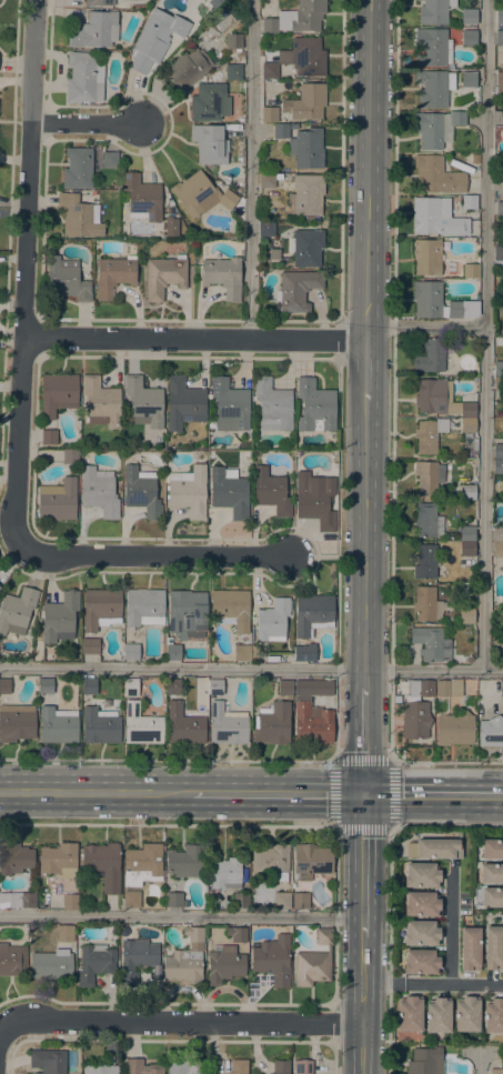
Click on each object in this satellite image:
building: (98, 2)
building: (434, 11)
building: (469, 16)
building: (499, 17)
building: (296, 18)
building: (95, 30)
building: (469, 38)
building: (499, 38)
building: (155, 39)
building: (233, 41)
building: (432, 48)
building: (308, 57)
building: (187, 69)
building: (270, 70)
building: (233, 71)
building: (83, 78)
building: (469, 79)
building: (499, 83)
building: (433, 88)
building: (305, 102)
building: (209, 103)
building: (269, 114)
road: (90, 123)
building: (436, 128)
building: (281, 131)
building: (209, 144)
building: (306, 148)
building: (474, 159)
building: (110, 160)
road: (340, 161)
building: (78, 168)
road: (369, 169)
road: (251, 170)
building: (436, 175)
building: (268, 180)
building: (227, 181)
building: (200, 195)
building: (306, 195)
building: (142, 199)
building: (469, 202)
building: (500, 209)
building: (79, 217)
building: (436, 218)
building: (171, 227)
building: (265, 228)
building: (306, 248)
building: (426, 257)
building: (499, 257)
building: (471, 271)
road: (28, 273)
building: (113, 275)
building: (164, 275)
building: (223, 277)
building: (66, 279)
building: (295, 290)
building: (426, 299)
building: (462, 309)
road: (425, 328)
road: (483, 334)
road: (195, 339)
road: (339, 340)
building: (432, 357)
building: (497, 369)
road: (368, 370)
road: (393, 381)
building: (499, 384)
building: (58, 393)
building: (101, 402)
building: (444, 402)
building: (143, 403)
building: (183, 403)
building: (230, 405)
building: (272, 405)
building: (315, 406)
building: (499, 414)
building: (429, 435)
building: (49, 436)
building: (497, 452)
building: (211, 454)
building: (70, 456)
building: (497, 466)
building: (429, 478)
building: (270, 490)
building: (99, 491)
building: (188, 491)
building: (141, 492)
building: (229, 492)
building: (467, 492)
building: (57, 501)
building: (313, 504)
building: (427, 521)
building: (466, 534)
building: (497, 534)
road: (365, 543)
building: (467, 549)
building: (497, 550)
road: (153, 555)
road: (313, 555)
road: (336, 560)
building: (425, 562)
building: (0, 585)
building: (426, 604)
building: (144, 606)
building: (231, 608)
building: (101, 609)
building: (17, 611)
building: (187, 613)
building: (312, 614)
building: (465, 615)
building: (60, 618)
building: (272, 621)
building: (430, 644)
building: (90, 646)
building: (172, 650)
building: (131, 652)
building: (241, 652)
building: (253, 652)
building: (304, 653)
building: (469, 660)
road: (251, 671)
building: (46, 685)
building: (89, 685)
building: (4, 686)
building: (130, 686)
building: (172, 686)
building: (214, 686)
building: (449, 687)
building: (285, 689)
building: (502, 690)
building: (416, 710)
building: (502, 712)
building: (312, 714)
building: (17, 722)
building: (272, 724)
building: (58, 725)
building: (141, 725)
building: (227, 725)
building: (100, 726)
building: (183, 726)
building: (454, 729)
building: (491, 732)
road: (365, 741)
road: (168, 761)
road: (392, 762)
road: (447, 762)
road: (97, 793)
road: (278, 794)
traffic signals: (364, 795)
road: (433, 795)
road: (258, 825)
building: (437, 849)
building: (492, 849)
building: (14, 859)
building: (57, 859)
building: (271, 861)
building: (311, 861)
building: (184, 862)
building: (102, 865)
building: (141, 865)
road: (363, 866)
building: (225, 873)
building: (491, 873)
building: (421, 875)
road: (389, 894)
building: (491, 897)
building: (18, 900)
building: (130, 900)
building: (174, 900)
building: (241, 901)
building: (278, 901)
building: (300, 901)
building: (70, 902)
building: (420, 904)
road: (181, 915)
road: (451, 931)
building: (64, 933)
building: (420, 933)
building: (237, 934)
building: (493, 947)
building: (470, 948)
building: (185, 958)
building: (12, 960)
building: (138, 960)
building: (273, 960)
building: (313, 962)
building: (420, 962)
building: (94, 964)
building: (224, 964)
building: (50, 965)
road: (383, 984)
road: (453, 985)
road: (362, 1006)
building: (409, 1014)
building: (466, 1014)
building: (437, 1015)
building: (493, 1016)
road: (180, 1022)
road: (334, 1023)
road: (332, 1057)
building: (48, 1061)
building: (425, 1061)
road: (477, 1065)
building: (187, 1066)
building: (239, 1066)
building: (302, 1066)
building: (141, 1067)
building: (280, 1067)
building: (101, 1070)
building: (496, 1072)

